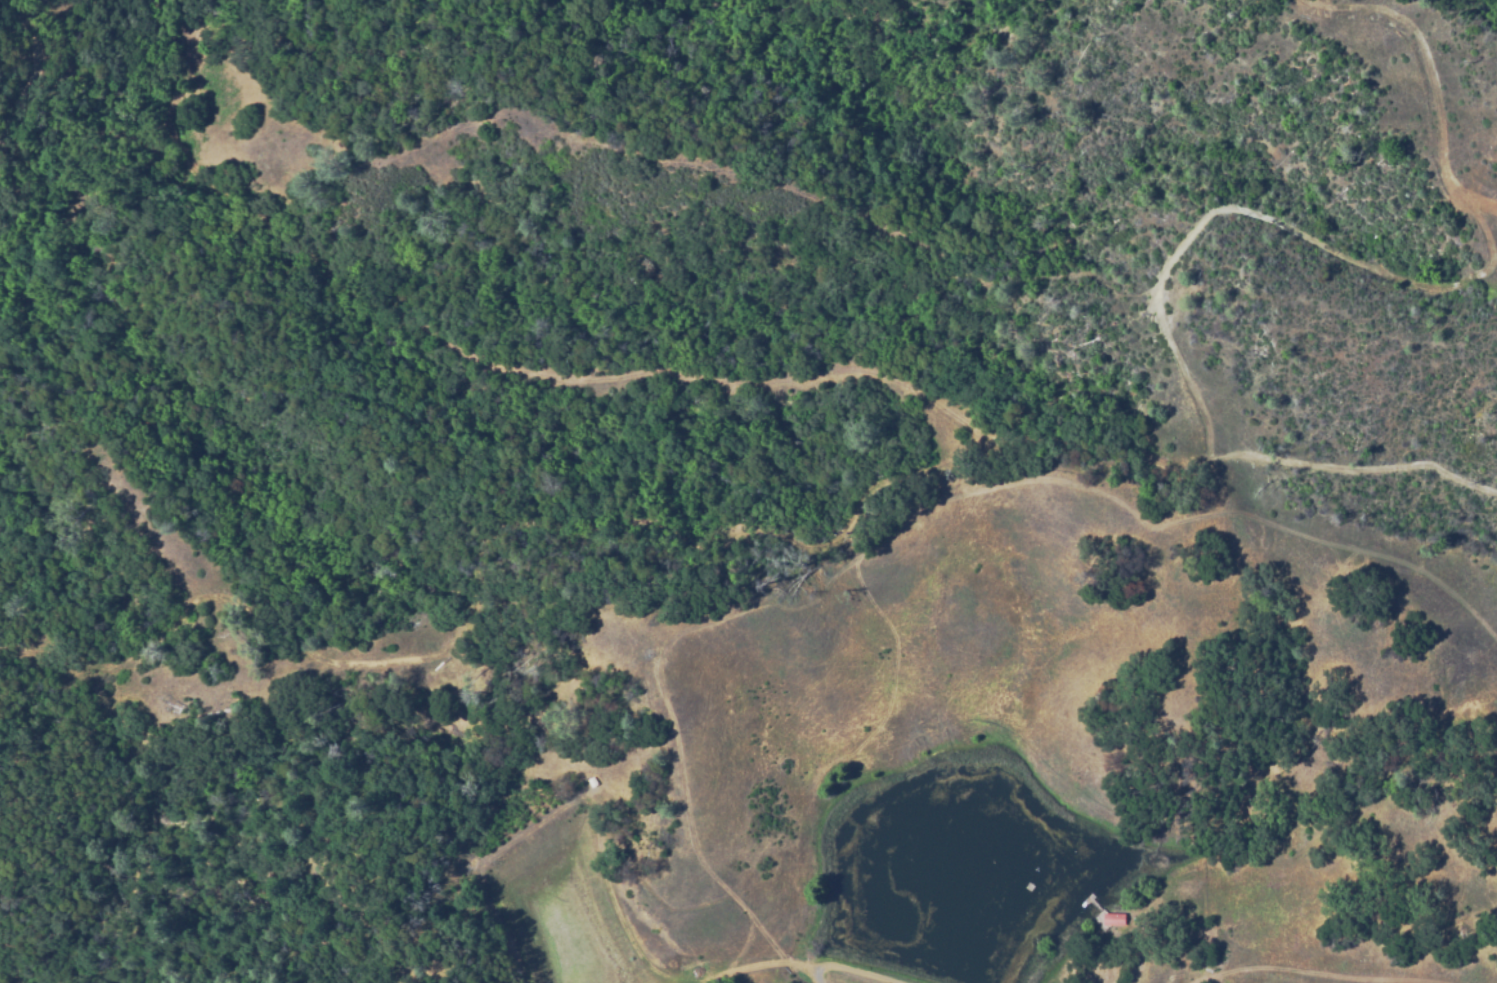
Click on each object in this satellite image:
road: (23, 64)
building: (1113, 920)

